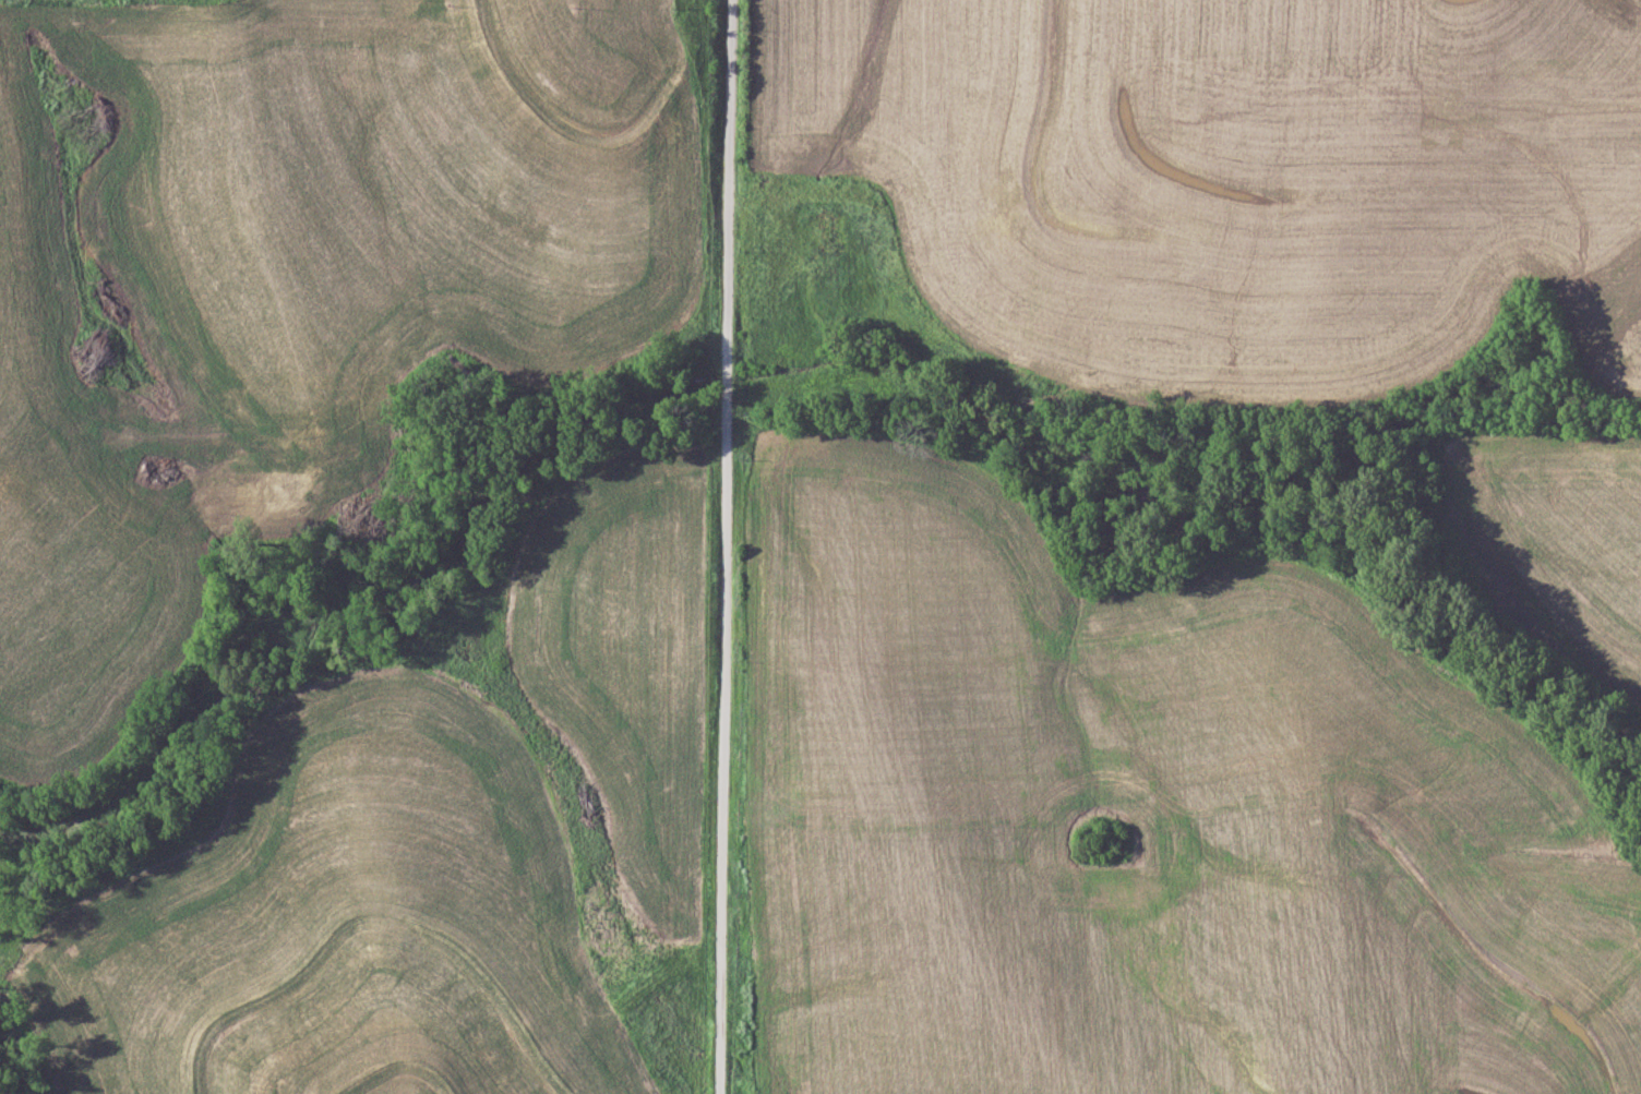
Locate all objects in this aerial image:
road: (971, 225)
road: (724, 546)

